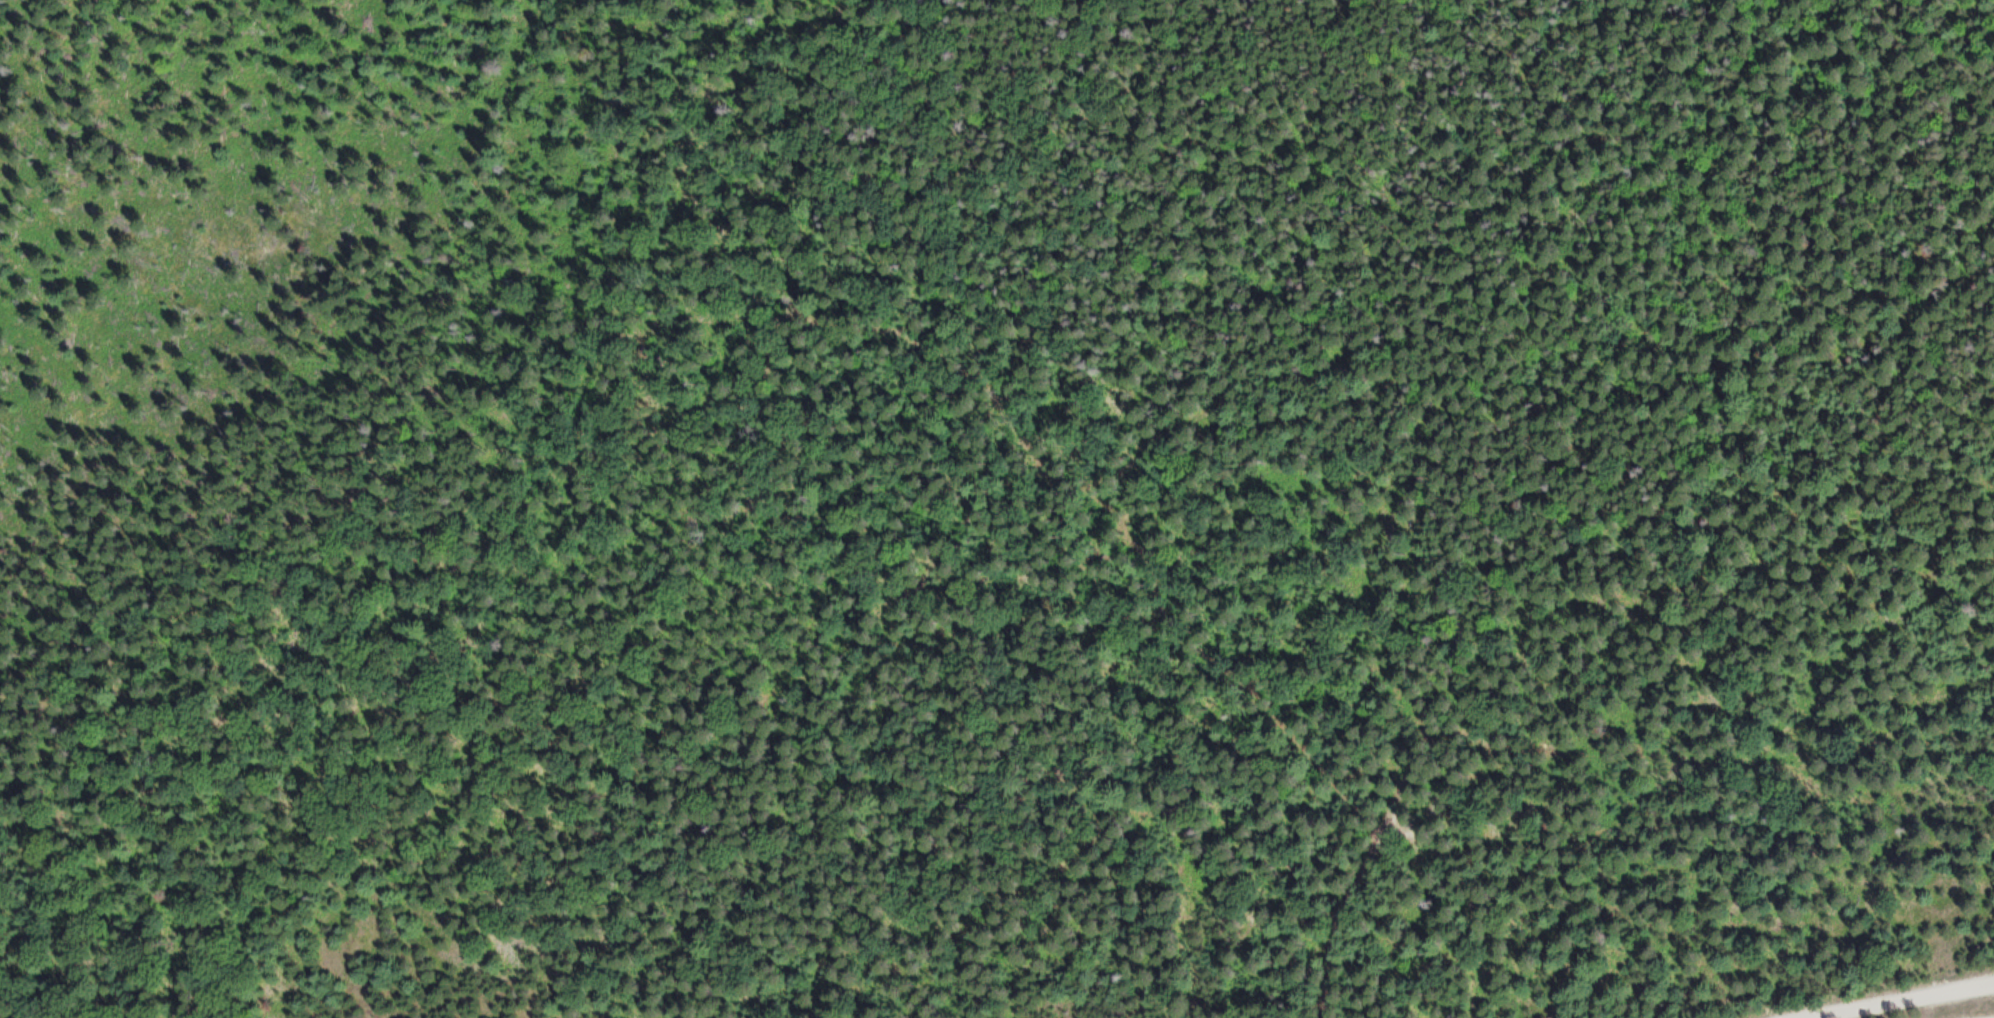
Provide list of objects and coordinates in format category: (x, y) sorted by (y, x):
road: (1894, 1000)

